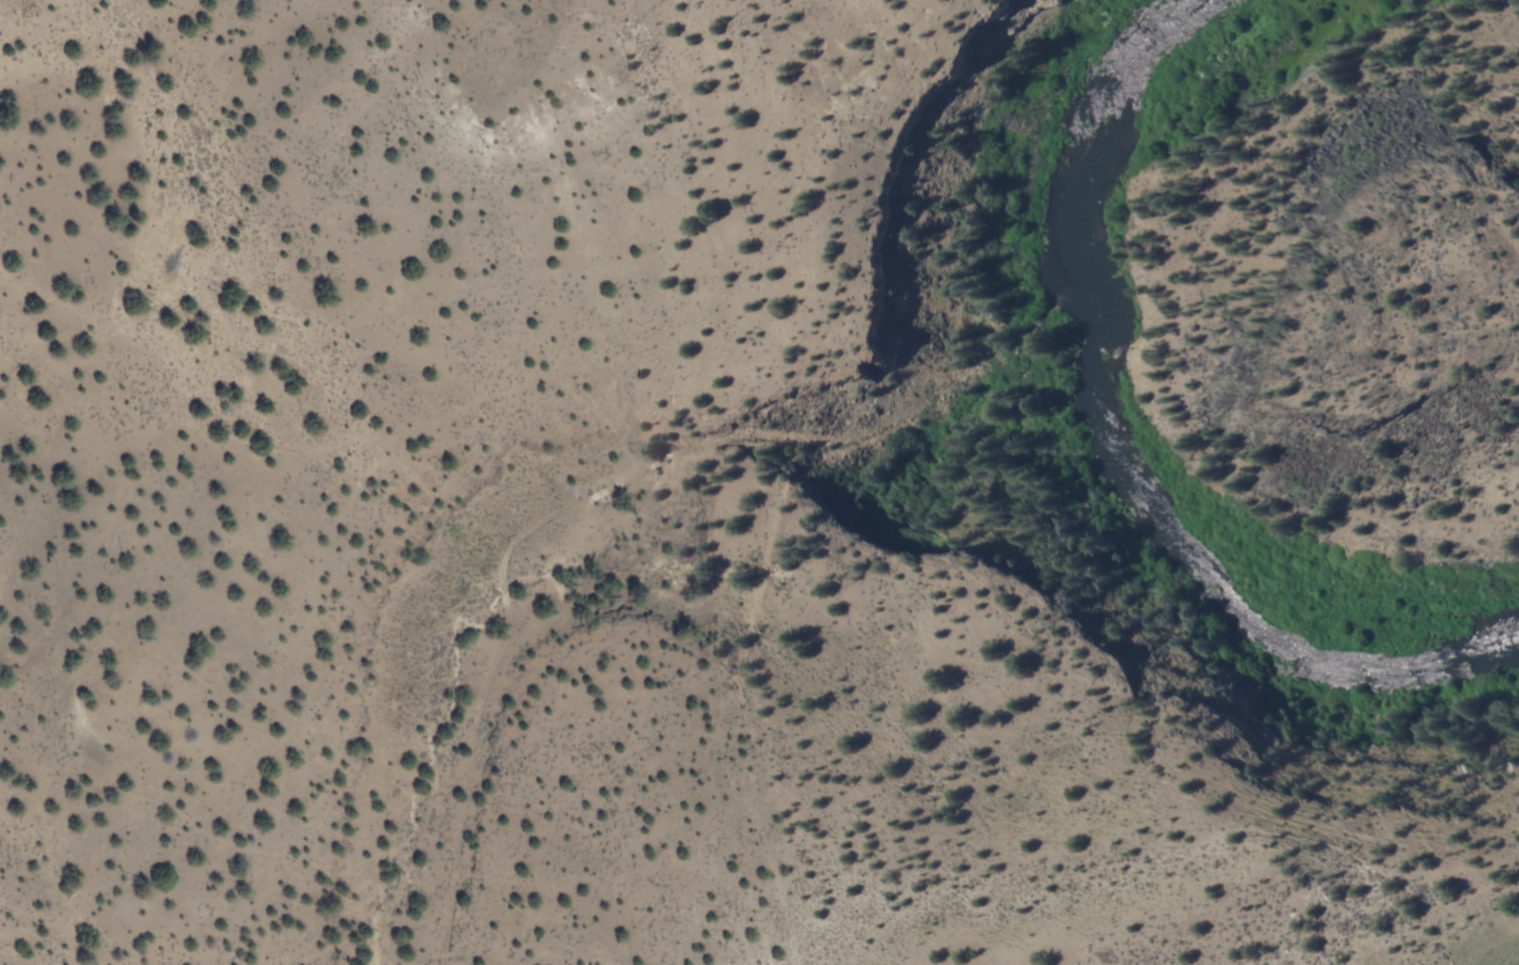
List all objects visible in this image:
river: (1119, 458)
crop: (1453, 947)

